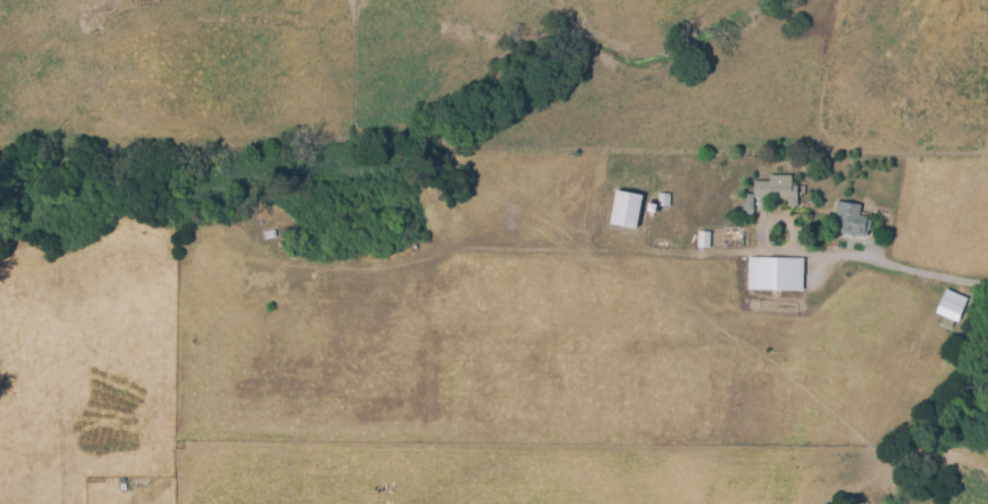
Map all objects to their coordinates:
building: (779, 190)
building: (664, 200)
building: (625, 208)
building: (849, 221)
building: (703, 240)
road: (803, 247)
building: (779, 273)
building: (948, 313)

